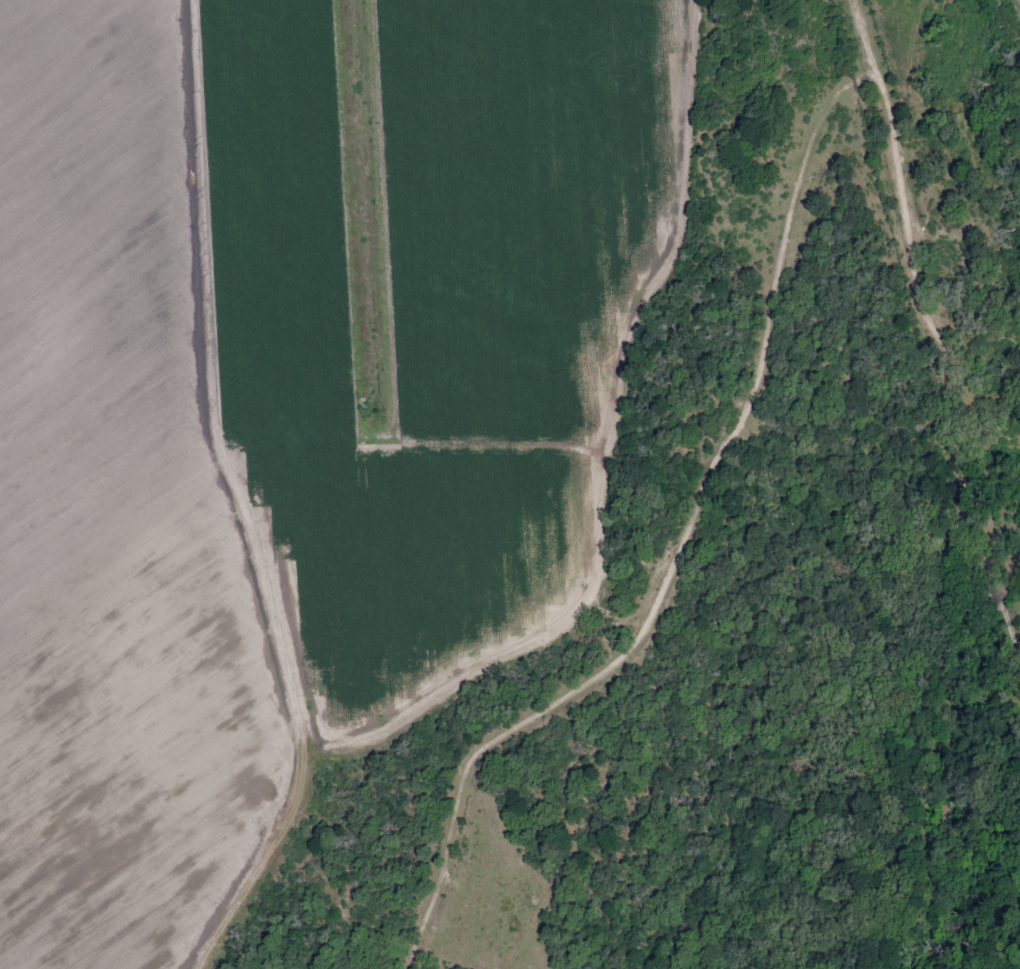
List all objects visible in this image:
road: (942, 315)

